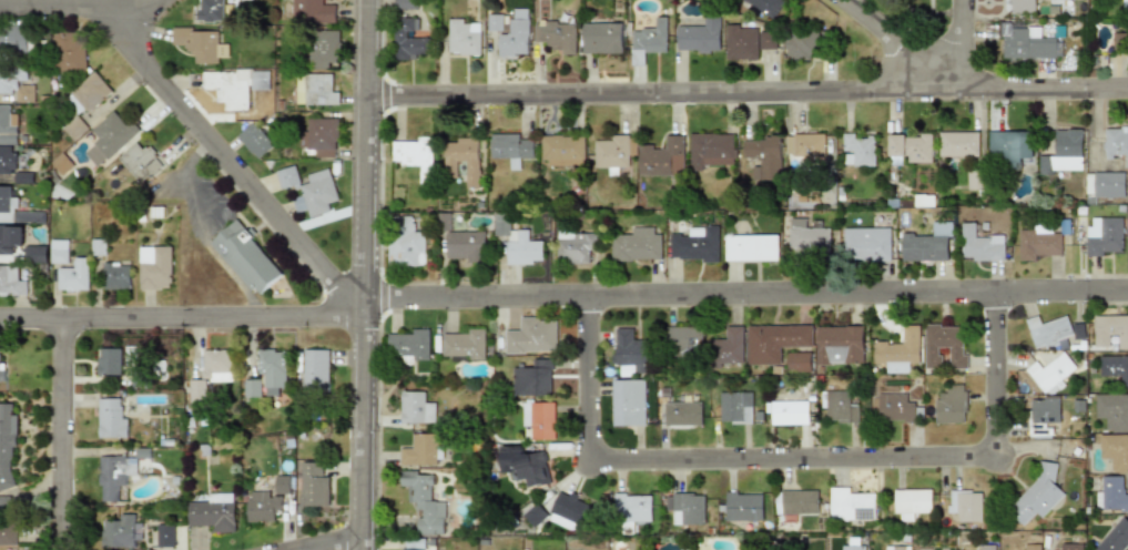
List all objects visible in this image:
building: (718, 0)
building: (404, 4)
building: (765, 6)
building: (1022, 6)
building: (1125, 6)
road: (138, 10)
building: (211, 11)
building: (312, 11)
park: (916, 13)
building: (494, 23)
building: (555, 37)
building: (699, 37)
building: (463, 38)
building: (600, 38)
building: (13, 40)
building: (406, 40)
building: (512, 40)
building: (766, 40)
building: (648, 41)
building: (1118, 41)
building: (200, 43)
building: (740, 43)
road: (888, 43)
road: (961, 43)
building: (1026, 43)
building: (800, 44)
building: (323, 50)
building: (67, 53)
building: (16, 82)
building: (230, 84)
building: (315, 90)
road: (748, 91)
building: (84, 102)
road: (199, 115)
building: (7, 126)
building: (112, 135)
building: (322, 137)
building: (254, 141)
building: (1115, 142)
building: (958, 144)
building: (804, 145)
building: (510, 146)
building: (1009, 146)
building: (710, 149)
building: (909, 149)
building: (1065, 149)
building: (761, 150)
building: (857, 150)
building: (408, 151)
building: (561, 151)
building: (611, 154)
building: (465, 156)
building: (661, 157)
building: (7, 160)
building: (140, 162)
building: (62, 164)
building: (286, 177)
building: (974, 180)
building: (1105, 185)
building: (315, 193)
building: (924, 201)
building: (16, 210)
building: (807, 236)
building: (1104, 237)
building: (11, 240)
building: (405, 242)
building: (695, 243)
building: (1037, 243)
building: (517, 244)
building: (637, 244)
building: (867, 244)
building: (928, 244)
building: (979, 244)
building: (575, 245)
building: (463, 246)
building: (751, 248)
building: (35, 254)
building: (248, 261)
building: (69, 267)
building: (155, 268)
road: (360, 274)
building: (116, 275)
building: (14, 281)
road: (562, 296)
building: (1048, 332)
building: (1110, 332)
building: (530, 336)
building: (682, 343)
building: (463, 344)
building: (407, 345)
building: (780, 345)
building: (840, 345)
building: (729, 346)
building: (944, 346)
building: (898, 348)
building: (632, 349)
building: (109, 361)
building: (216, 366)
building: (1114, 367)
building: (272, 370)
building: (314, 370)
building: (1048, 373)
building: (2, 376)
building: (532, 378)
building: (251, 388)
building: (628, 403)
building: (951, 405)
building: (735, 407)
building: (897, 407)
building: (415, 408)
building: (842, 408)
building: (684, 409)
building: (786, 409)
building: (1112, 410)
building: (1043, 416)
building: (538, 418)
building: (111, 419)
road: (63, 431)
building: (7, 446)
building: (421, 449)
building: (1114, 450)
road: (792, 460)
building: (524, 465)
building: (114, 476)
building: (281, 485)
building: (312, 486)
building: (1111, 493)
building: (1037, 496)
building: (424, 501)
building: (795, 501)
building: (909, 502)
building: (852, 505)
building: (3, 506)
building: (742, 506)
building: (964, 506)
building: (261, 507)
building: (631, 508)
building: (684, 508)
building: (569, 509)
building: (212, 513)
building: (533, 516)
building: (120, 532)
building: (8, 534)
building: (163, 536)
building: (1115, 537)
road: (329, 542)
building: (851, 544)
building: (1070, 546)
building: (988, 547)
building: (1030, 547)
building: (896, 548)
building: (411, 549)
building: (684, 549)
building: (925, 549)

